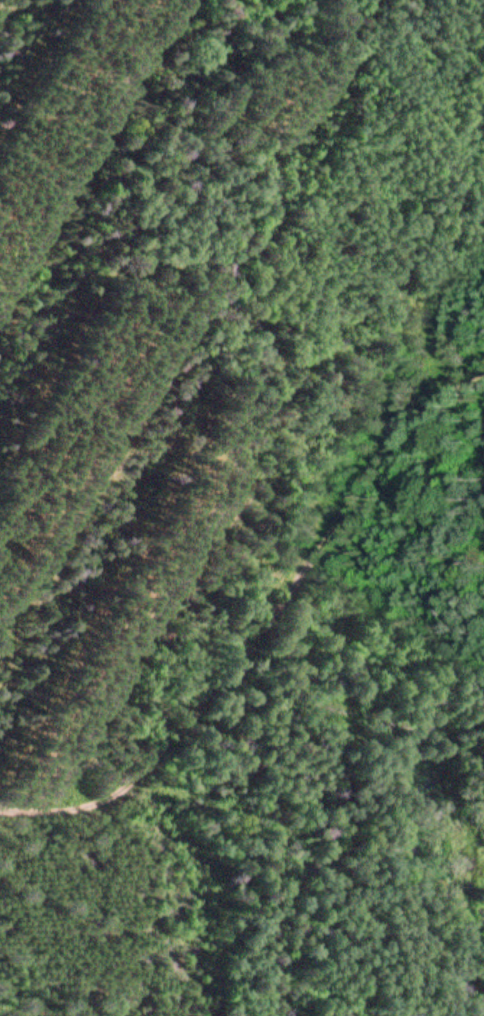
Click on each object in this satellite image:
road: (264, 628)

